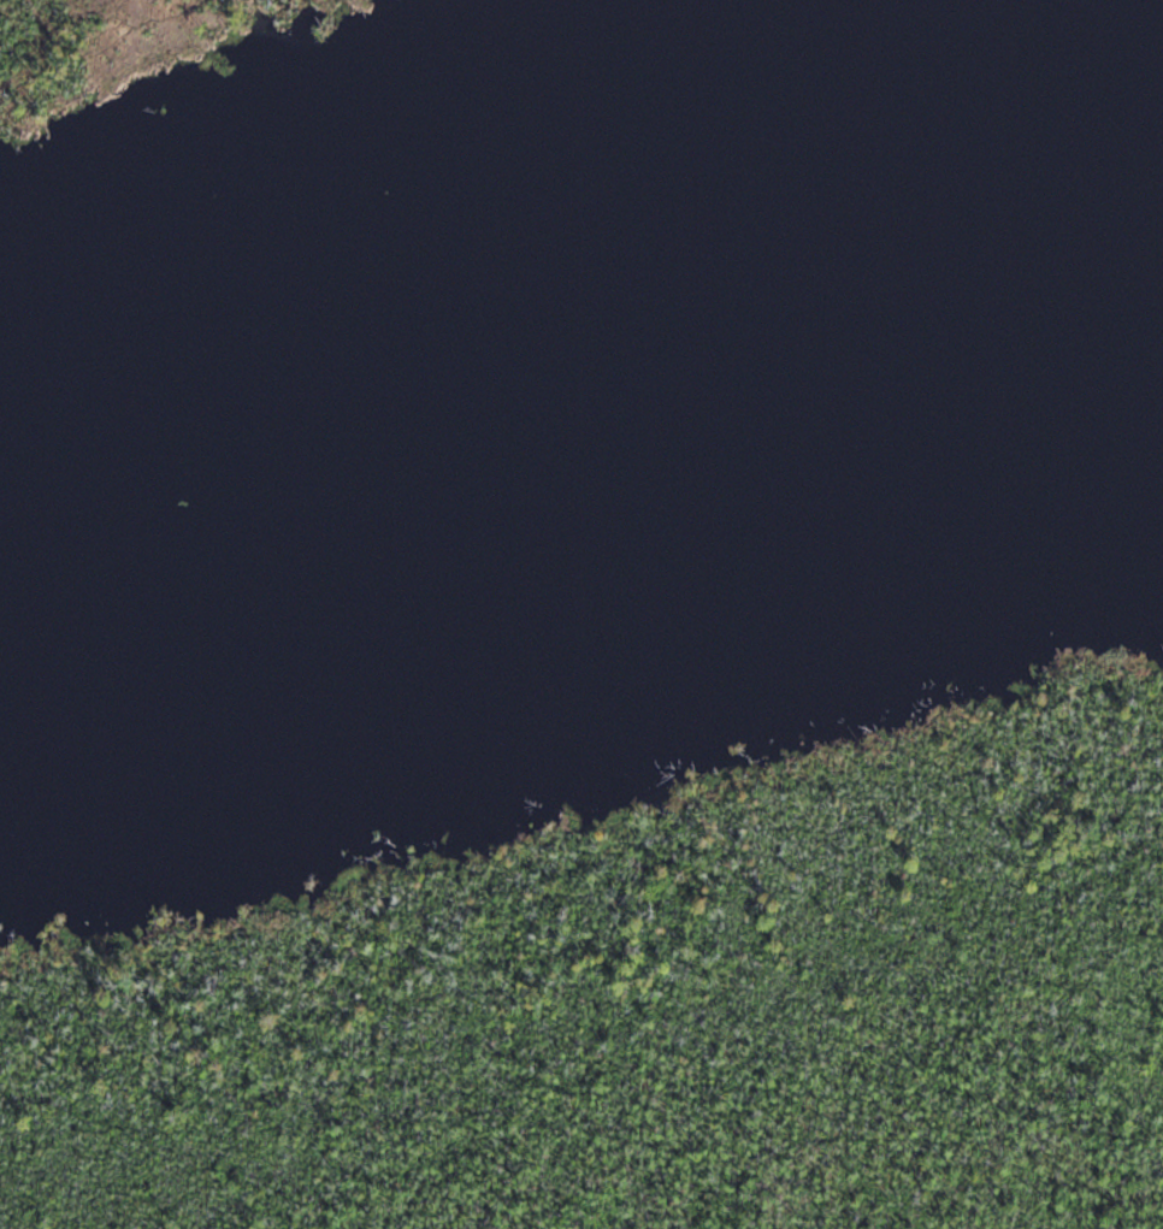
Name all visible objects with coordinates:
river: (568, 353)

